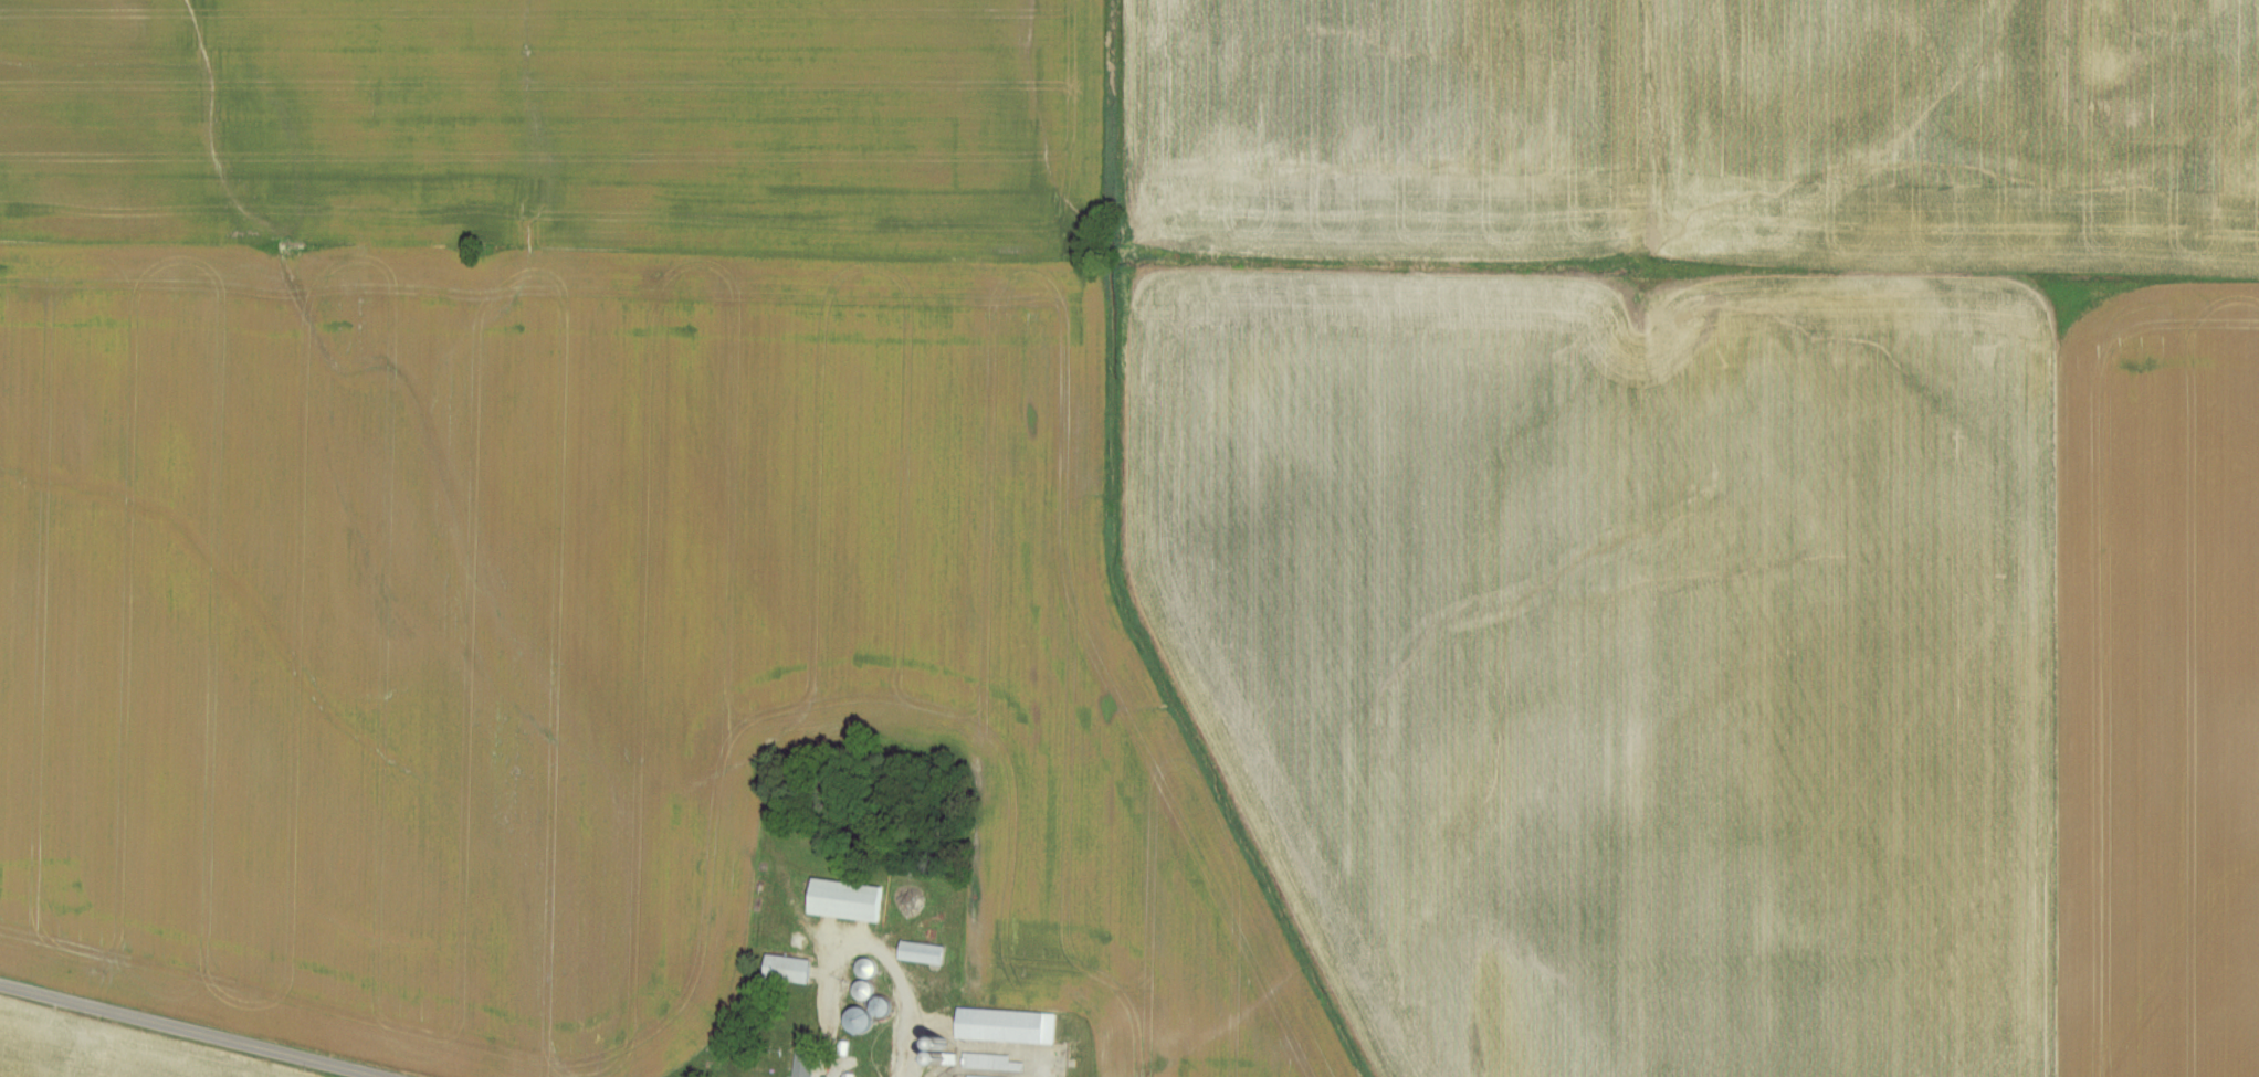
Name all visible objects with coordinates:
building: (849, 900)
building: (926, 953)
building: (791, 970)
building: (866, 990)
building: (862, 1021)
building: (1009, 1026)
road: (195, 1030)
crop: (104, 1050)
building: (997, 1063)
building: (807, 1065)

